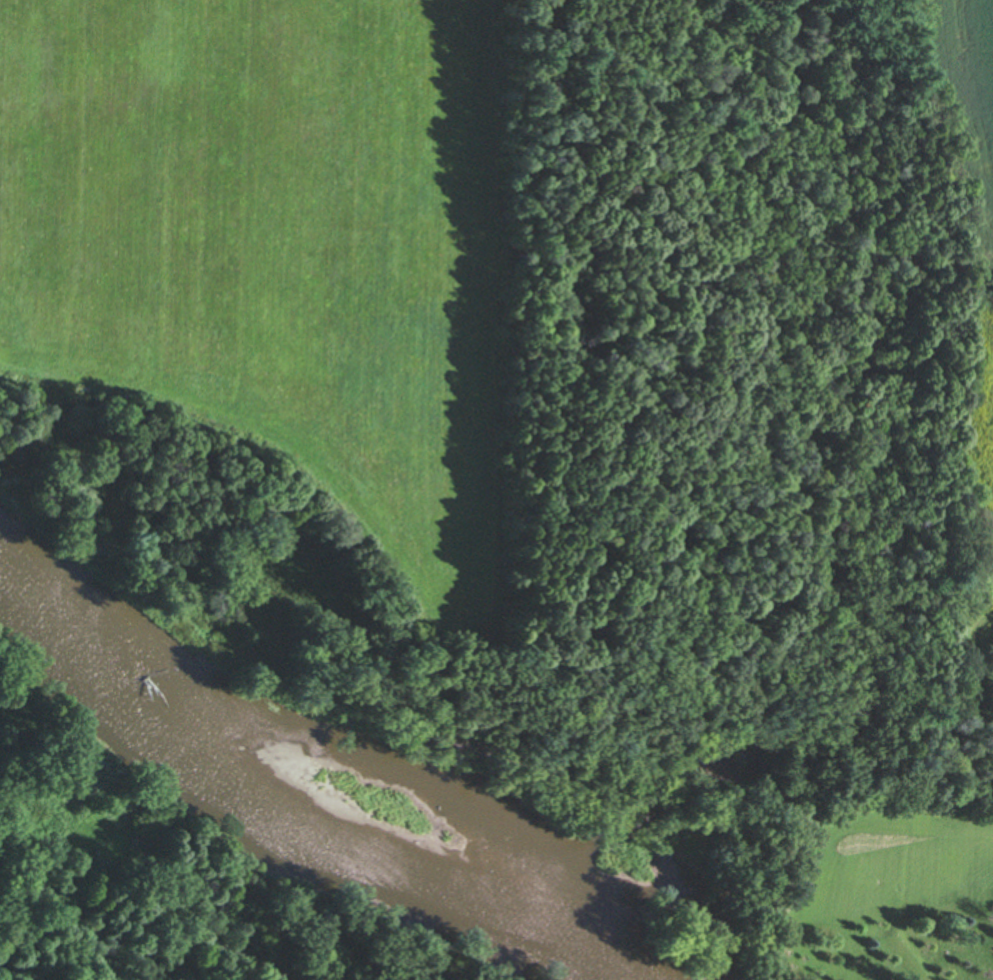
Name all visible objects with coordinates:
building: (931, 69)
road: (275, 200)
river: (296, 784)

